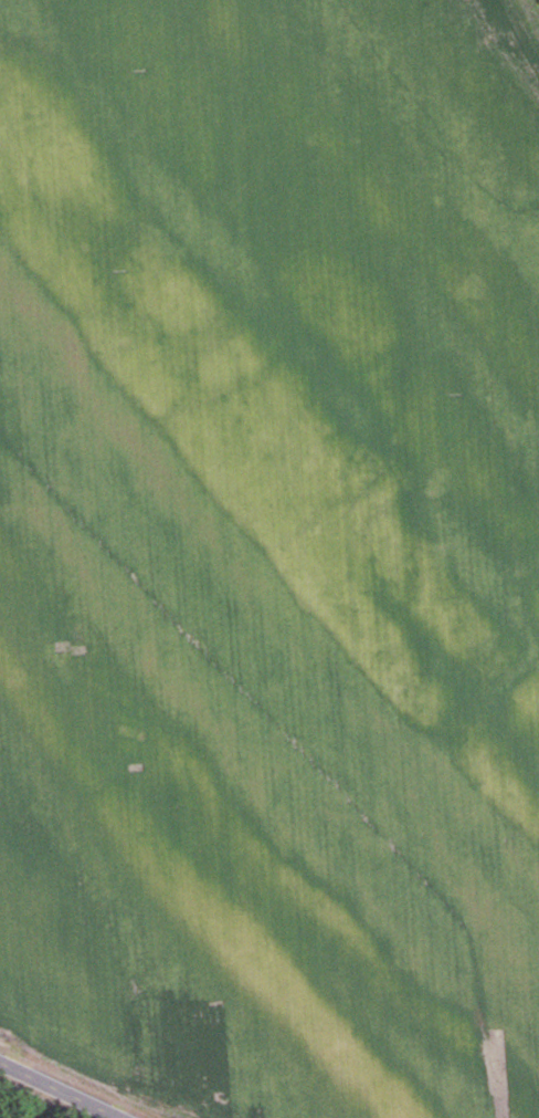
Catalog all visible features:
road: (60, 1089)

